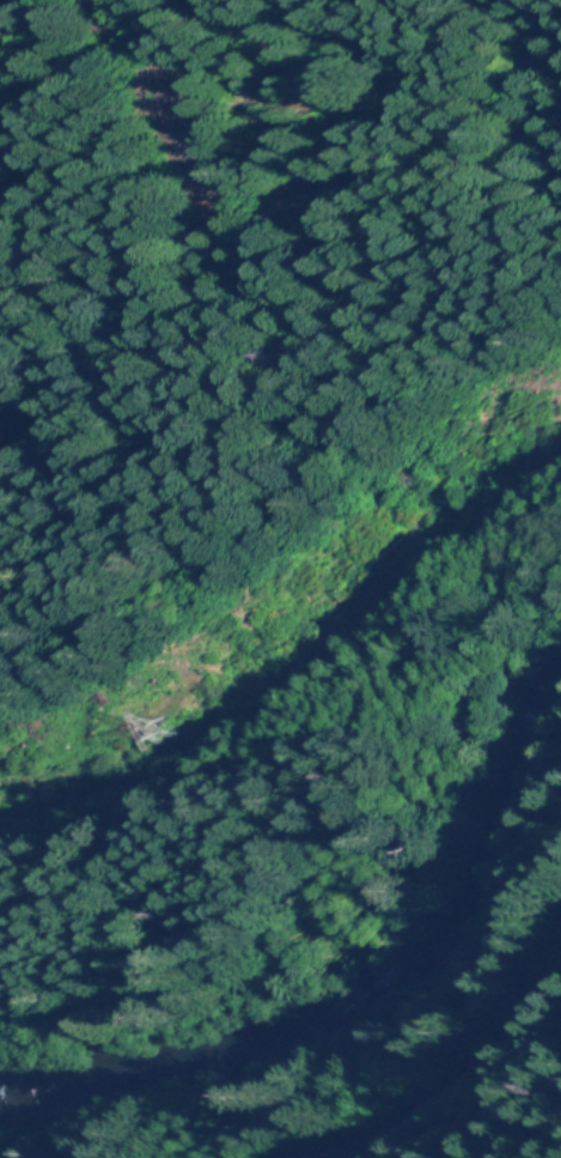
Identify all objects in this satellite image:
power tower: (175, 745)
river: (348, 977)
road: (435, 1074)

